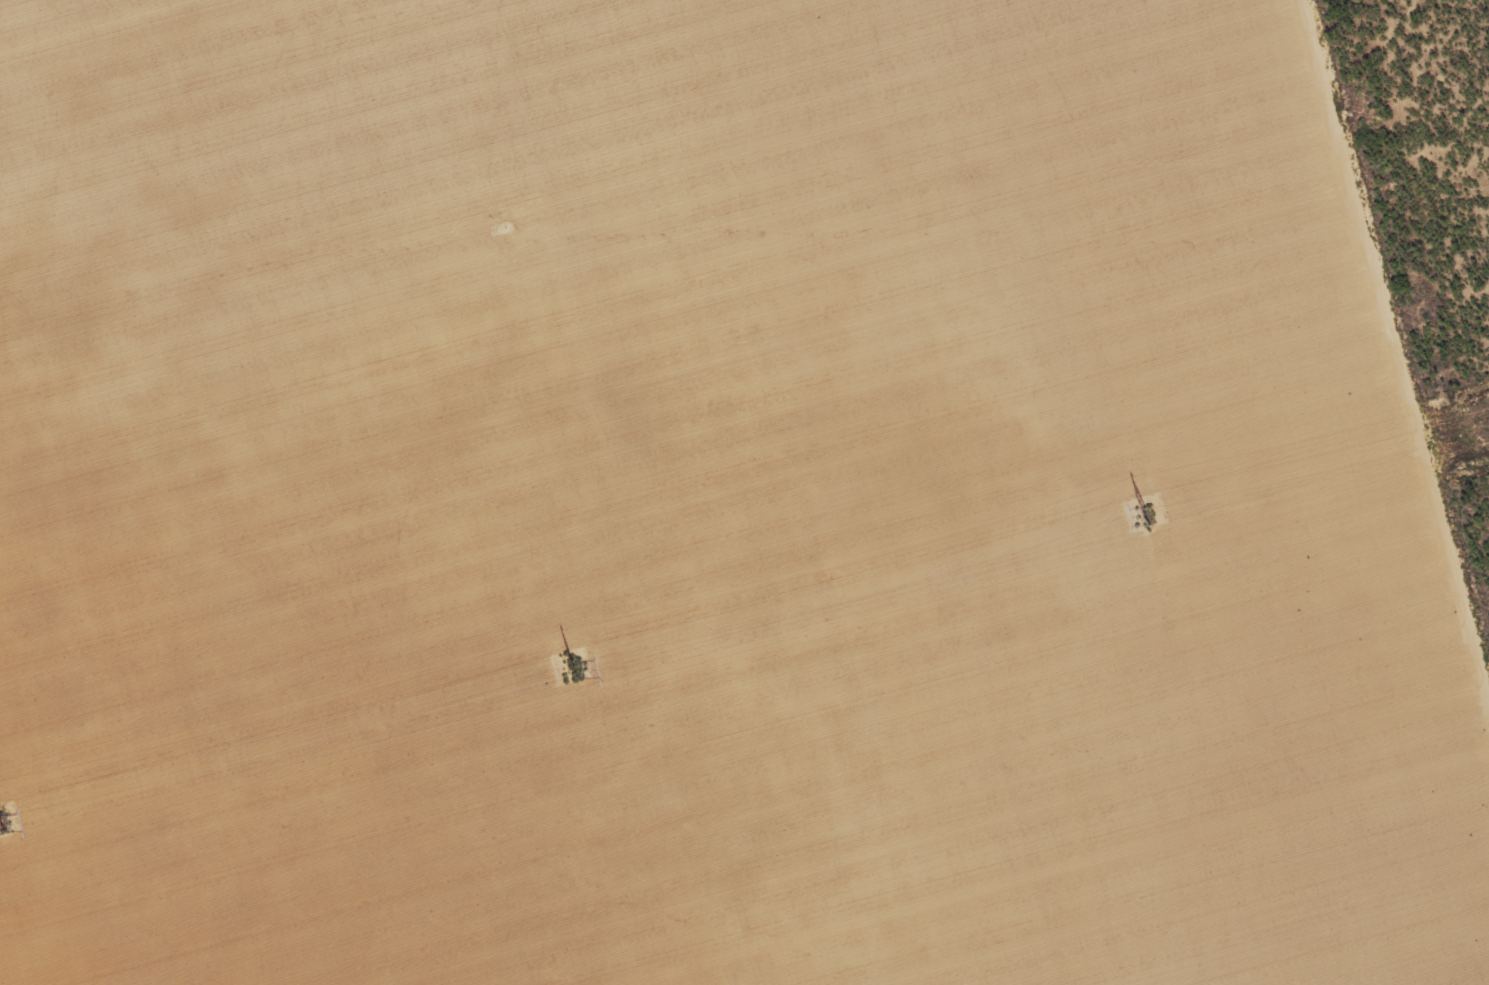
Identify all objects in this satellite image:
road: (113, 29)
power tower: (1147, 517)
power tower: (574, 669)
power tower: (1, 822)

